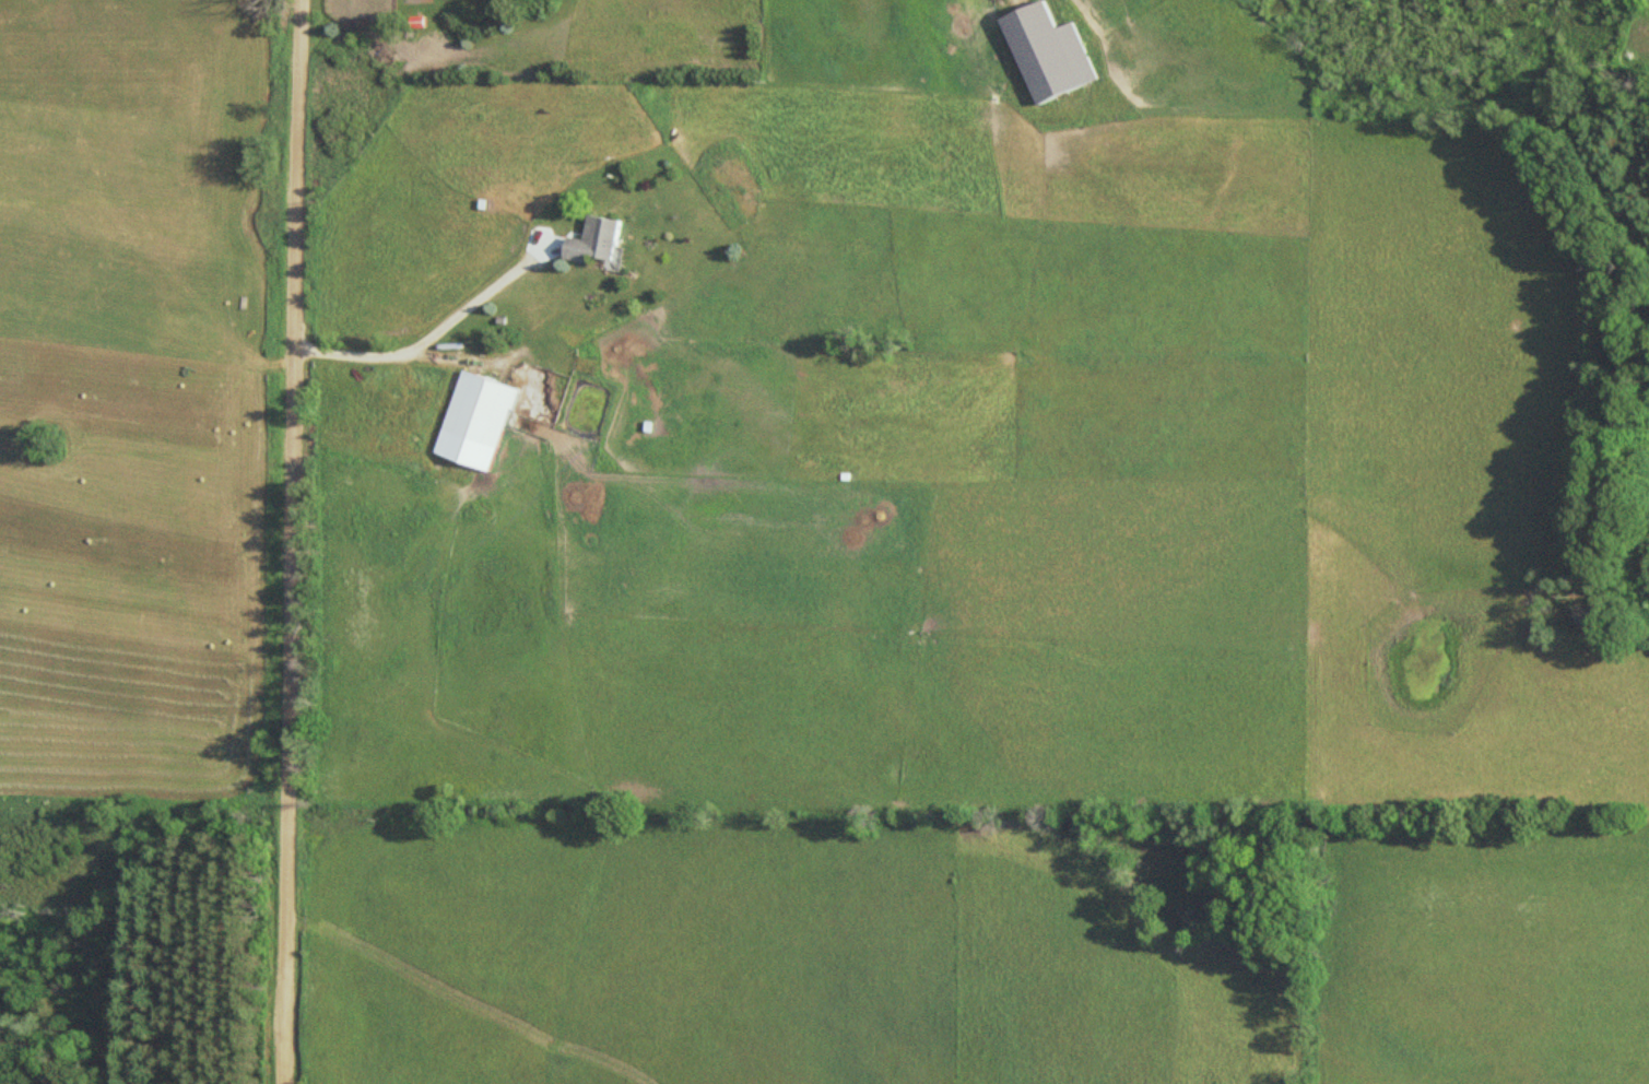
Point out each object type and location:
building: (1056, 54)
building: (603, 241)
building: (481, 420)
building: (580, 425)
road: (293, 542)

